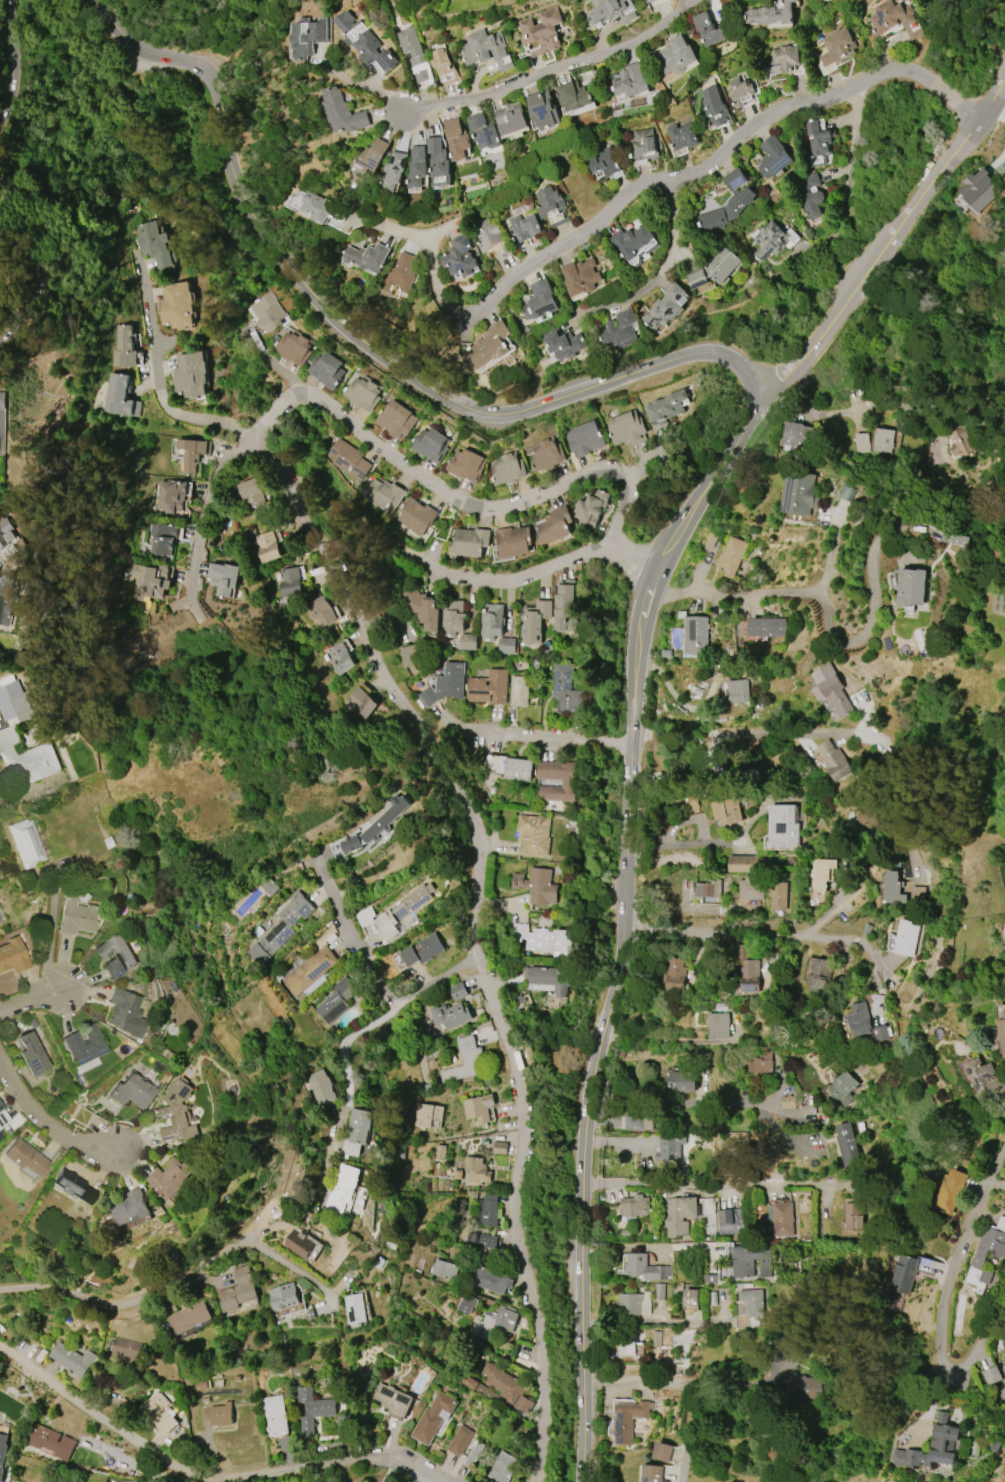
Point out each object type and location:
building: (648, 1)
building: (609, 11)
building: (770, 14)
building: (894, 19)
building: (709, 29)
building: (540, 32)
building: (307, 36)
building: (364, 42)
building: (837, 46)
building: (486, 49)
road: (6, 53)
building: (414, 54)
building: (675, 55)
building: (780, 60)
building: (443, 66)
road: (549, 69)
building: (631, 81)
road: (358, 84)
building: (738, 90)
building: (572, 96)
building: (714, 105)
building: (541, 110)
building: (343, 112)
building: (510, 118)
building: (482, 131)
building: (682, 136)
building: (455, 138)
road: (852, 138)
building: (818, 142)
building: (644, 145)
building: (371, 156)
building: (773, 157)
road: (717, 159)
building: (603, 162)
building: (437, 163)
building: (416, 167)
building: (393, 170)
building: (980, 189)
building: (810, 195)
building: (728, 203)
building: (551, 206)
building: (315, 207)
building: (524, 227)
building: (489, 234)
building: (769, 240)
building: (634, 243)
road: (884, 244)
building: (155, 245)
building: (367, 257)
building: (460, 257)
building: (722, 264)
road: (659, 269)
building: (400, 274)
building: (580, 277)
building: (697, 279)
road: (34, 282)
road: (436, 284)
building: (540, 300)
building: (177, 305)
building: (665, 307)
building: (267, 312)
building: (620, 330)
road: (352, 334)
building: (563, 343)
building: (489, 345)
building: (124, 347)
building: (295, 347)
road: (271, 364)
building: (326, 370)
building: (191, 375)
road: (156, 379)
building: (362, 393)
building: (119, 396)
building: (2, 400)
building: (665, 407)
road: (854, 411)
building: (395, 419)
building: (626, 428)
building: (798, 434)
building: (584, 439)
building: (883, 440)
building: (961, 442)
building: (430, 445)
road: (383, 448)
building: (192, 453)
building: (545, 454)
building: (350, 460)
building: (465, 465)
road: (641, 467)
building: (507, 469)
building: (251, 493)
building: (383, 493)
building: (800, 493)
building: (171, 496)
building: (590, 508)
building: (417, 516)
building: (554, 525)
building: (8, 538)
building: (163, 538)
building: (470, 541)
building: (513, 541)
building: (267, 547)
building: (732, 556)
building: (223, 578)
building: (151, 581)
building: (289, 582)
road: (506, 582)
building: (911, 587)
road: (764, 595)
building: (7, 599)
building: (565, 607)
building: (424, 608)
building: (321, 610)
building: (453, 618)
building: (492, 621)
building: (535, 621)
building: (766, 627)
building: (696, 635)
building: (468, 641)
road: (842, 641)
building: (506, 645)
building: (411, 655)
building: (340, 658)
building: (445, 684)
building: (488, 687)
building: (565, 689)
building: (831, 689)
building: (738, 690)
building: (518, 691)
building: (17, 702)
building: (362, 702)
road: (804, 732)
road: (541, 739)
building: (26, 757)
building: (835, 760)
building: (518, 769)
building: (568, 782)
building: (689, 803)
building: (727, 811)
building: (375, 826)
building: (782, 826)
building: (533, 835)
building: (25, 843)
building: (687, 859)
building: (743, 864)
building: (823, 873)
building: (537, 885)
building: (269, 886)
road: (863, 886)
building: (750, 888)
building: (894, 888)
building: (707, 889)
building: (918, 894)
building: (778, 896)
building: (402, 910)
building: (77, 915)
road: (621, 925)
building: (280, 928)
road: (49, 929)
road: (763, 933)
road: (471, 935)
building: (906, 937)
building: (544, 940)
building: (422, 950)
building: (12, 955)
building: (115, 956)
building: (310, 970)
building: (674, 974)
building: (820, 975)
building: (750, 976)
road: (375, 978)
building: (549, 978)
building: (457, 991)
road: (32, 997)
building: (336, 1000)
building: (124, 1012)
building: (450, 1015)
building: (860, 1019)
building: (718, 1025)
building: (1002, 1030)
building: (880, 1033)
road: (671, 1039)
road: (351, 1041)
building: (83, 1045)
building: (32, 1054)
building: (465, 1061)
building: (761, 1063)
building: (984, 1079)
building: (682, 1081)
building: (321, 1088)
building: (843, 1088)
building: (131, 1090)
building: (790, 1101)
road: (702, 1103)
building: (478, 1108)
building: (176, 1112)
building: (428, 1116)
building: (2, 1117)
building: (636, 1122)
road: (334, 1126)
building: (356, 1131)
road: (45, 1134)
building: (847, 1143)
building: (670, 1147)
building: (499, 1148)
building: (439, 1152)
building: (24, 1157)
building: (476, 1170)
building: (170, 1177)
road: (636, 1182)
building: (73, 1186)
building: (342, 1188)
building: (951, 1191)
building: (634, 1206)
building: (131, 1207)
building: (486, 1211)
building: (679, 1215)
building: (854, 1216)
building: (782, 1219)
building: (731, 1221)
building: (482, 1240)
building: (298, 1244)
building: (987, 1255)
building: (750, 1261)
road: (287, 1265)
building: (645, 1267)
building: (444, 1269)
building: (906, 1274)
building: (490, 1280)
building: (237, 1290)
building: (670, 1292)
road: (942, 1295)
building: (282, 1296)
building: (691, 1297)
road: (138, 1299)
building: (752, 1301)
building: (629, 1303)
building: (467, 1304)
building: (355, 1308)
building: (189, 1318)
road: (651, 1320)
building: (497, 1322)
building: (656, 1338)
building: (626, 1344)
building: (126, 1349)
building: (72, 1359)
building: (1003, 1381)
road: (683, 1383)
building: (506, 1386)
building: (803, 1387)
building: (479, 1388)
building: (392, 1400)
building: (312, 1409)
building: (158, 1413)
building: (218, 1414)
building: (275, 1416)
building: (432, 1417)
building: (628, 1419)
building: (459, 1440)
building: (50, 1441)
building: (932, 1446)
building: (663, 1451)
building: (2, 1453)
building: (472, 1454)
building: (502, 1467)
building: (652, 1473)
road: (206, 1480)

